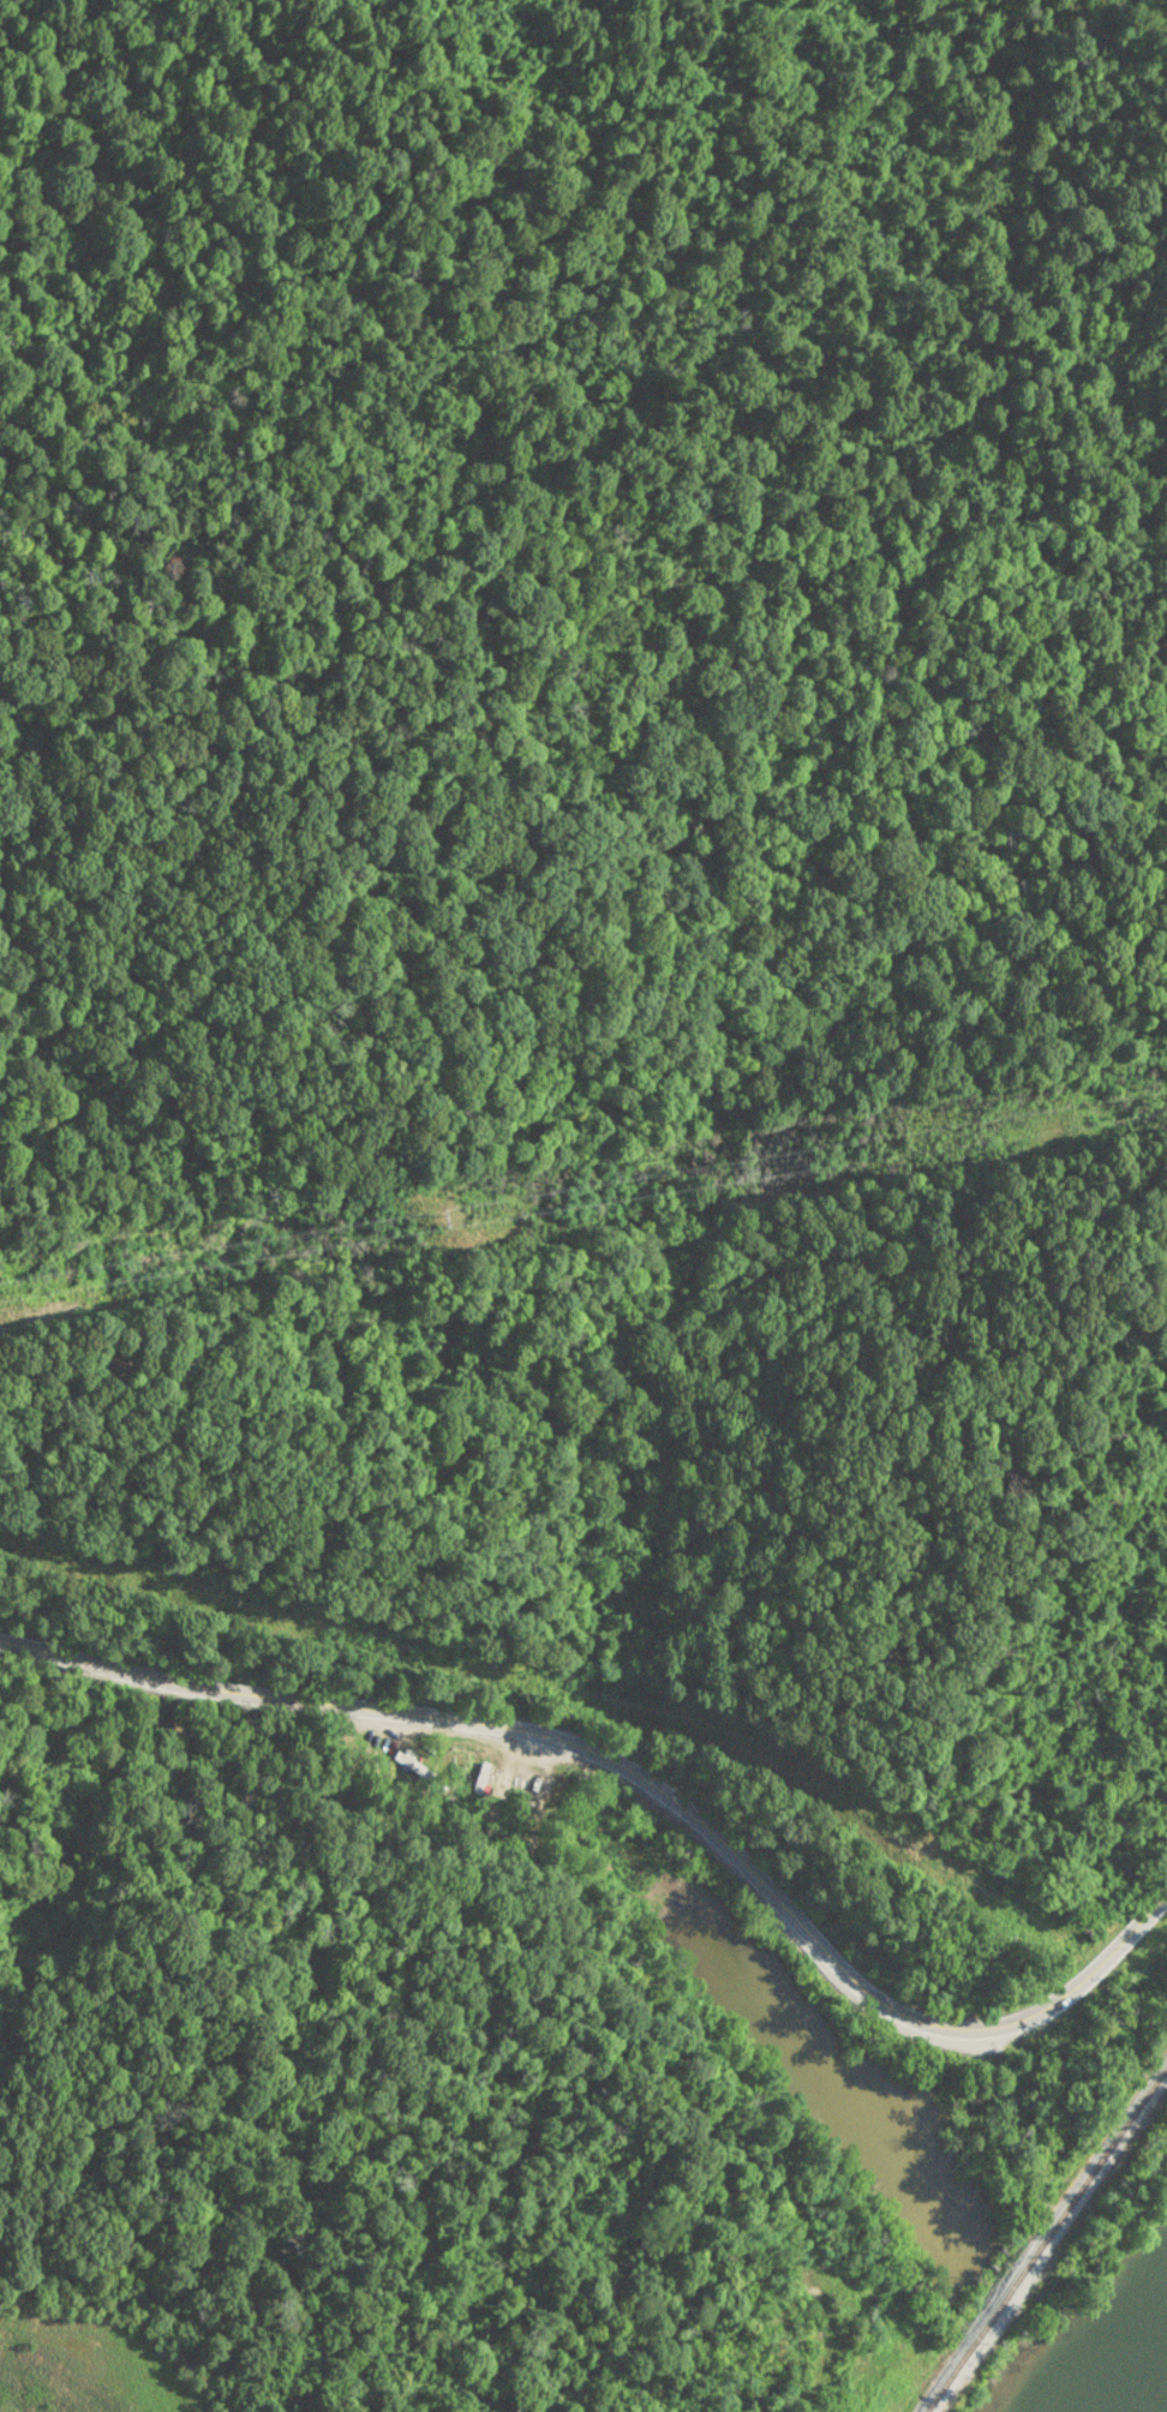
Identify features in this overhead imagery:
road: (644, 1784)
railway: (1046, 2239)

